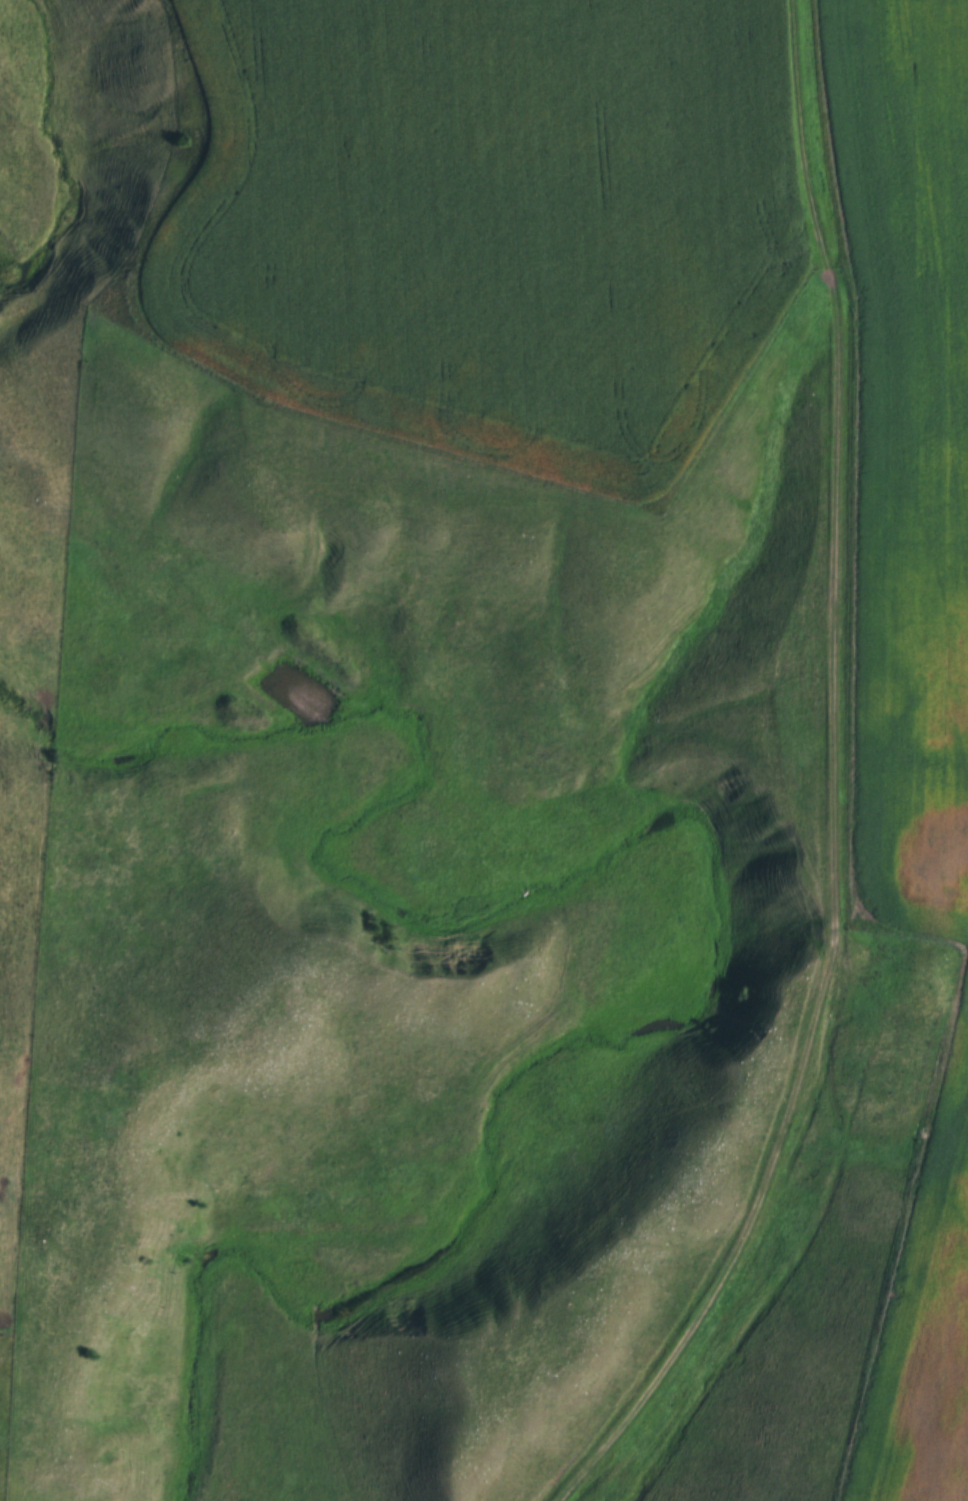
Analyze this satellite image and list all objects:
road: (838, 786)

